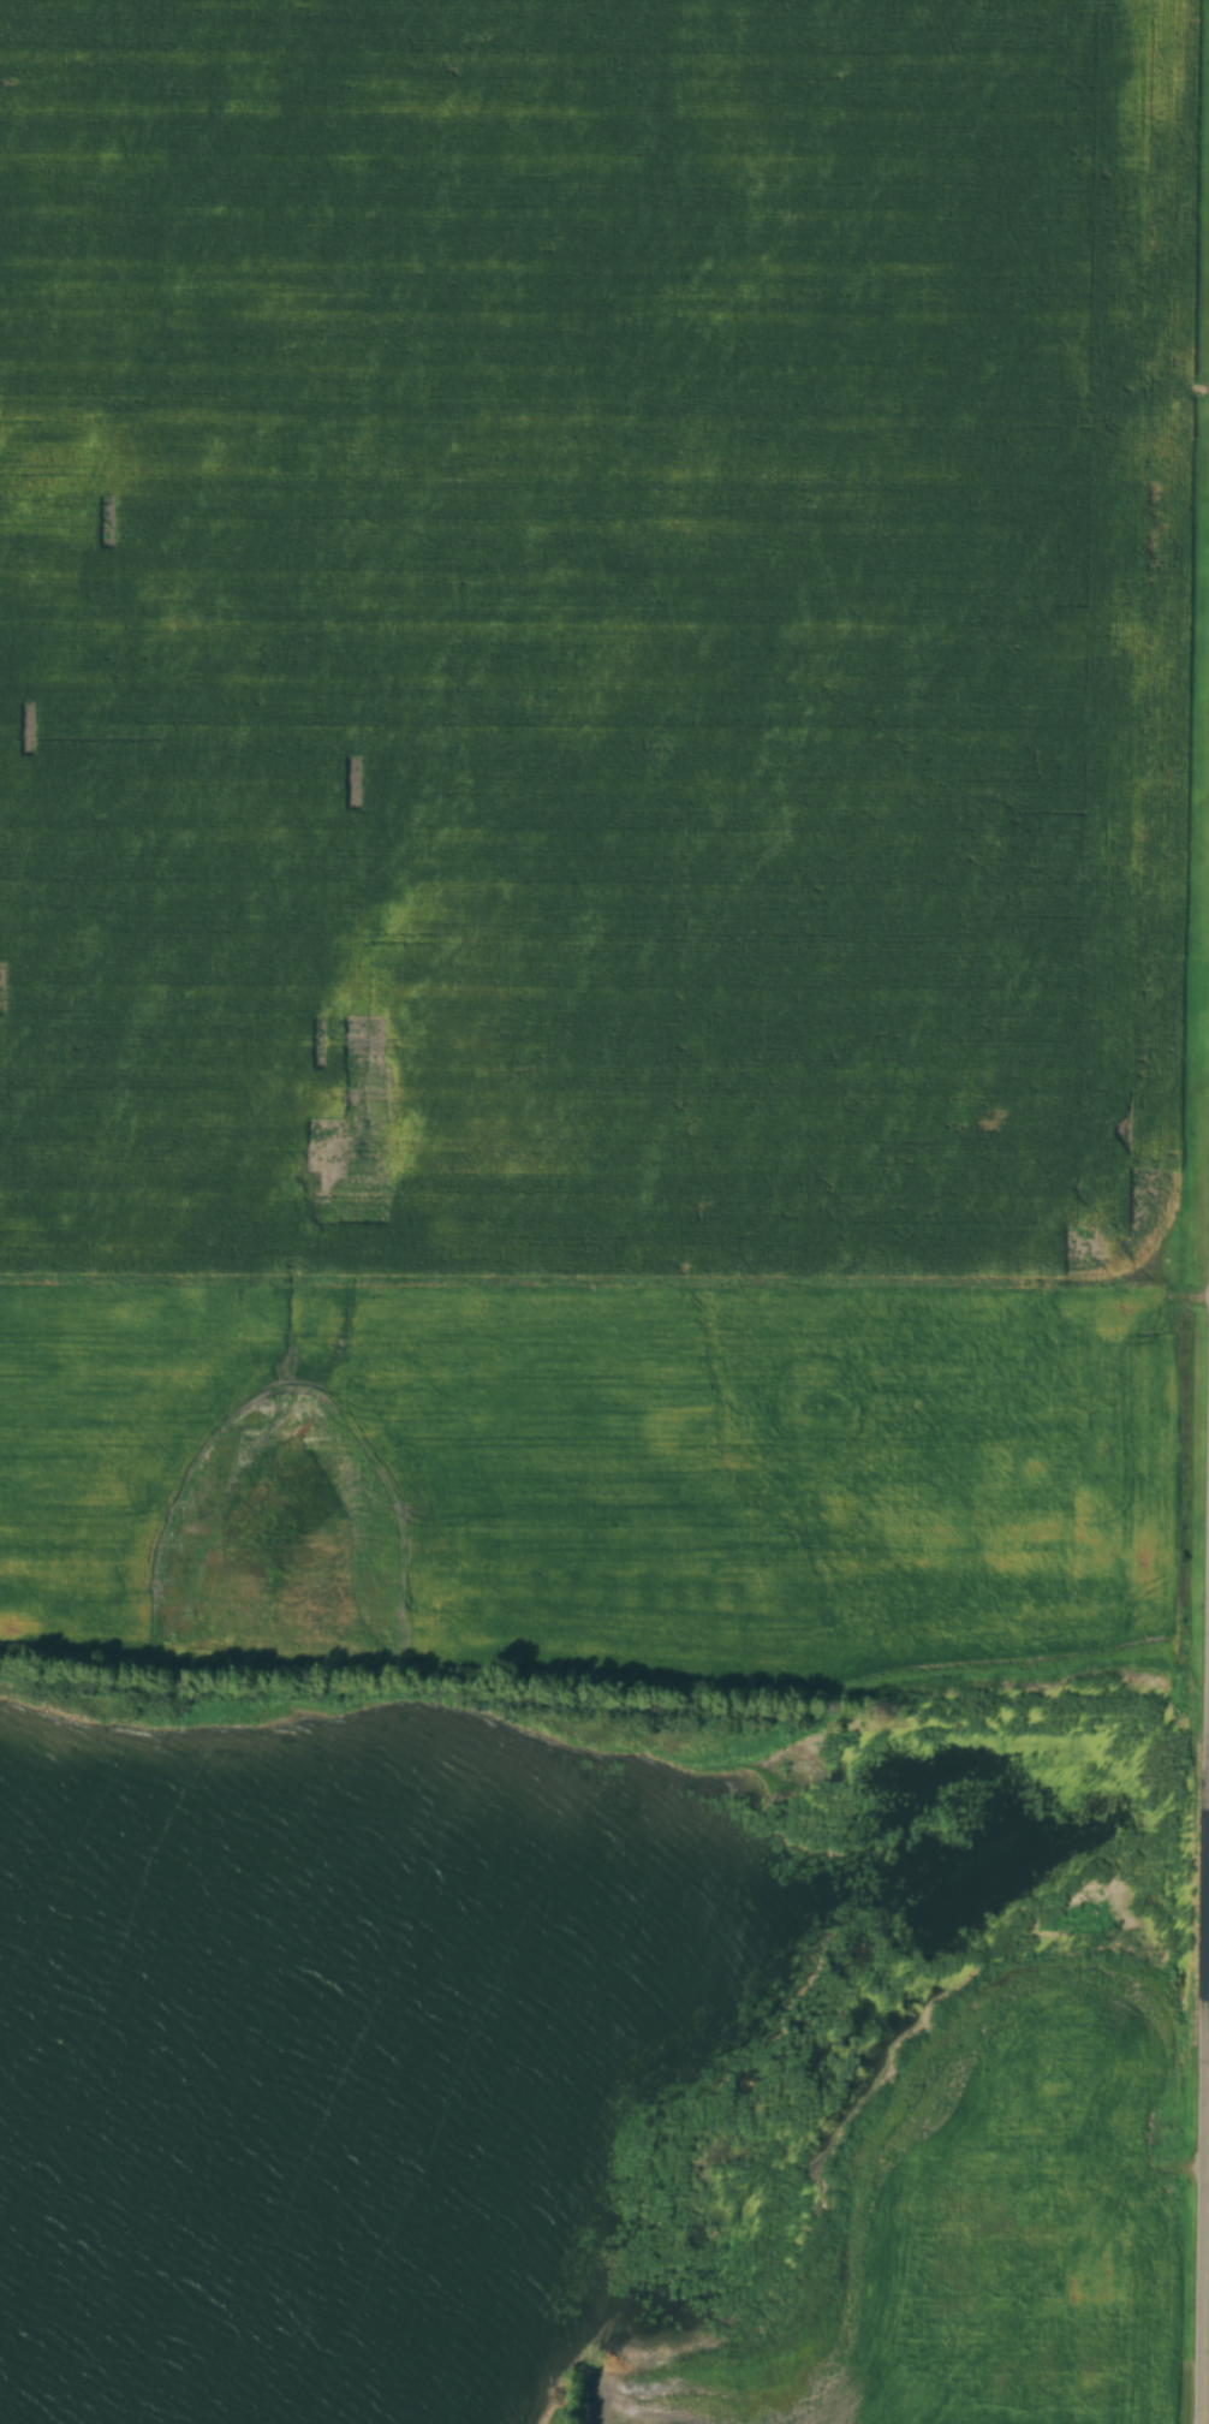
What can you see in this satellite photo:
road: (1204, 2197)

